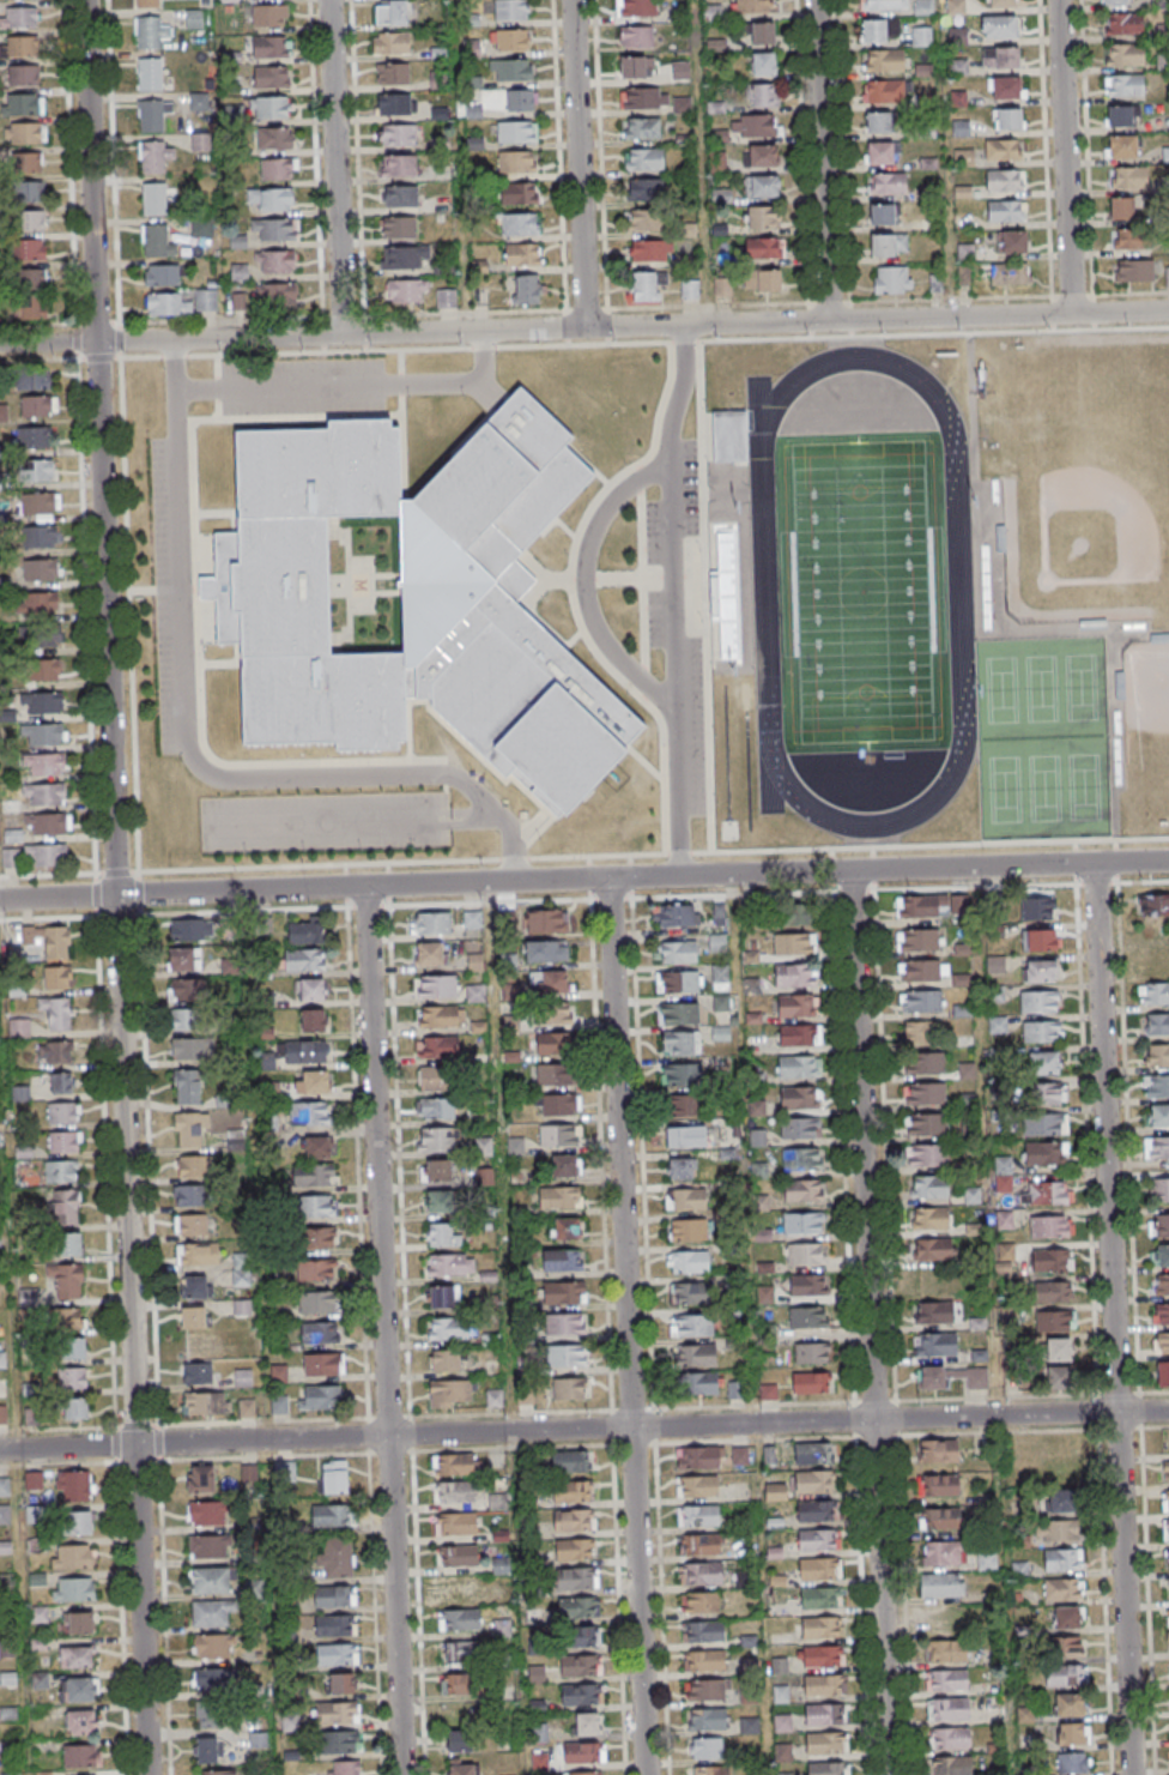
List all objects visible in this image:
building: (1116, 1)
building: (146, 4)
building: (882, 4)
building: (1001, 4)
building: (755, 6)
building: (636, 7)
building: (922, 7)
building: (955, 7)
building: (510, 10)
building: (392, 12)
building: (268, 17)
building: (22, 18)
building: (1123, 24)
building: (998, 28)
building: (878, 29)
building: (152, 31)
building: (762, 32)
building: (959, 32)
building: (636, 36)
building: (921, 36)
building: (513, 40)
building: (390, 43)
building: (22, 47)
building: (271, 47)
building: (1123, 54)
building: (1000, 58)
building: (883, 60)
building: (763, 64)
building: (635, 66)
building: (509, 70)
building: (150, 74)
building: (393, 74)
building: (24, 76)
building: (271, 77)
building: (437, 80)
building: (1123, 85)
building: (1006, 87)
building: (888, 91)
building: (763, 95)
building: (644, 97)
building: (958, 98)
building: (520, 99)
building: (199, 102)
building: (24, 103)
building: (394, 105)
building: (269, 107)
building: (441, 114)
building: (152, 115)
building: (1119, 115)
building: (1007, 117)
building: (878, 121)
building: (753, 126)
building: (641, 128)
building: (515, 132)
building: (25, 133)
building: (399, 135)
building: (275, 138)
building: (200, 143)
building: (1122, 146)
building: (1003, 149)
building: (879, 152)
building: (759, 155)
building: (1165, 155)
building: (155, 156)
road: (1064, 157)
building: (643, 158)
building: (516, 161)
road: (820, 161)
road: (701, 162)
building: (26, 163)
road: (577, 164)
road: (456, 165)
building: (396, 167)
road: (334, 168)
building: (278, 170)
building: (1128, 176)
building: (1004, 180)
building: (886, 183)
building: (761, 186)
building: (646, 188)
building: (28, 192)
building: (517, 193)
building: (721, 195)
building: (400, 197)
building: (153, 198)
building: (272, 199)
building: (1121, 207)
building: (1006, 210)
building: (884, 213)
building: (759, 217)
building: (32, 219)
building: (644, 219)
building: (519, 223)
building: (202, 228)
building: (398, 228)
building: (275, 230)
building: (1128, 239)
building: (157, 241)
building: (1011, 241)
building: (888, 243)
building: (764, 248)
building: (32, 249)
building: (650, 250)
building: (522, 254)
building: (404, 259)
building: (277, 262)
building: (1133, 270)
building: (1006, 272)
building: (162, 276)
building: (1167, 276)
building: (35, 279)
building: (891, 279)
building: (761, 280)
building: (644, 286)
building: (526, 289)
building: (689, 289)
building: (406, 294)
building: (278, 296)
building: (446, 298)
building: (182, 303)
building: (32, 309)
road: (584, 327)
building: (35, 379)
road: (351, 386)
building: (38, 405)
building: (4, 412)
building: (34, 436)
building: (726, 436)
building: (37, 470)
building: (42, 503)
road: (673, 513)
park: (1084, 518)
building: (40, 537)
building: (41, 570)
road: (583, 585)
park: (860, 592)
park: (860, 592)
track: (957, 592)
building: (414, 600)
building: (37, 604)
building: (41, 635)
building: (43, 670)
park: (1078, 688)
park: (1038, 689)
park: (999, 690)
building: (44, 702)
park: (1146, 731)
building: (43, 735)
road: (189, 749)
building: (44, 763)
park: (1082, 787)
road: (678, 789)
park: (1042, 789)
park: (1003, 790)
building: (47, 796)
road: (358, 822)
building: (49, 825)
road: (464, 825)
building: (46, 856)
building: (10, 858)
road: (641, 877)
road: (114, 887)
road: (57, 896)
building: (932, 905)
building: (1152, 905)
building: (1038, 907)
building: (797, 913)
building: (676, 914)
building: (472, 919)
building: (545, 920)
building: (430, 924)
building: (190, 929)
building: (304, 930)
building: (49, 940)
building: (919, 940)
building: (1038, 940)
building: (716, 942)
building: (794, 943)
building: (963, 949)
building: (544, 950)
building: (677, 950)
building: (429, 954)
building: (184, 958)
building: (304, 959)
building: (474, 962)
building: (1155, 964)
building: (1040, 970)
building: (922, 971)
building: (794, 974)
building: (720, 976)
building: (56, 977)
building: (679, 980)
building: (547, 983)
building: (437, 985)
building: (187, 989)
building: (310, 989)
building: (510, 992)
building: (476, 994)
building: (1153, 994)
building: (1038, 1001)
building: (720, 1002)
building: (921, 1002)
building: (797, 1004)
building: (56, 1012)
building: (678, 1013)
building: (549, 1014)
building: (441, 1015)
building: (188, 1019)
building: (313, 1020)
building: (1156, 1024)
building: (919, 1031)
building: (720, 1032)
building: (1041, 1032)
building: (799, 1034)
building: (680, 1042)
building: (552, 1043)
building: (437, 1046)
building: (193, 1048)
building: (301, 1051)
building: (54, 1052)
building: (1156, 1053)
building: (922, 1063)
building: (1043, 1063)
building: (799, 1065)
building: (555, 1074)
building: (680, 1074)
building: (436, 1077)
building: (313, 1082)
building: (61, 1083)
building: (1156, 1085)
building: (188, 1086)
building: (20, 1093)
building: (925, 1093)
building: (1047, 1093)
building: (799, 1097)
building: (559, 1104)
building: (684, 1105)
building: (435, 1107)
building: (62, 1112)
building: (309, 1112)
building: (1158, 1115)
building: (926, 1124)
building: (1044, 1125)
building: (799, 1128)
building: (187, 1129)
building: (559, 1134)
building: (684, 1136)
building: (437, 1139)
building: (65, 1141)
building: (483, 1146)
building: (317, 1147)
building: (1156, 1147)
building: (1044, 1154)
building: (926, 1155)
building: (801, 1158)
building: (190, 1165)
building: (564, 1165)
building: (679, 1167)
building: (437, 1170)
building: (61, 1171)
building: (313, 1173)
building: (929, 1187)
building: (1159, 1189)
building: (802, 1190)
building: (189, 1194)
building: (1047, 1195)
building: (971, 1196)
building: (559, 1197)
building: (685, 1199)
building: (438, 1201)
building: (315, 1205)
building: (66, 1206)
building: (928, 1218)
building: (801, 1222)
building: (190, 1224)
building: (1161, 1225)
building: (1049, 1226)
building: (564, 1227)
building: (688, 1228)
building: (438, 1233)
building: (319, 1238)
building: (69, 1244)
building: (931, 1249)
building: (198, 1254)
building: (804, 1254)
building: (1161, 1255)
building: (562, 1260)
building: (1052, 1260)
building: (688, 1261)
building: (449, 1264)
building: (241, 1269)
building: (315, 1270)
building: (66, 1279)
building: (931, 1280)
building: (805, 1284)
building: (1161, 1284)
building: (195, 1287)
building: (564, 1291)
building: (1052, 1291)
building: (690, 1292)
building: (443, 1296)
building: (317, 1302)
building: (933, 1311)
building: (1161, 1314)
building: (807, 1316)
building: (67, 1318)
building: (194, 1318)
road: (1114, 1318)
building: (1053, 1320)
road: (868, 1323)
building: (564, 1324)
building: (691, 1324)
road: (625, 1327)
building: (450, 1328)
road: (382, 1330)
building: (319, 1333)
building: (490, 1338)
building: (278, 1344)
building: (935, 1344)
building: (1161, 1344)
building: (202, 1345)
building: (71, 1347)
building: (1059, 1348)
building: (811, 1352)
building: (695, 1354)
building: (567, 1356)
building: (2, 1359)
building: (444, 1362)
building: (322, 1364)
building: (279, 1373)
building: (198, 1375)
building: (1162, 1375)
building: (973, 1376)
building: (73, 1377)
building: (931, 1377)
building: (1059, 1377)
building: (243, 1378)
building: (699, 1382)
building: (811, 1382)
building: (737, 1388)
building: (1, 1389)
building: (568, 1389)
building: (450, 1393)
building: (320, 1397)
building: (493, 1399)
building: (206, 1405)
building: (279, 1405)
building: (75, 1408)
building: (247, 1408)
building: (4, 1414)
building: (31, 1415)
road: (583, 1429)
building: (937, 1449)
building: (810, 1453)
building: (739, 1454)
building: (698, 1456)
building: (570, 1460)
building: (455, 1465)
building: (1164, 1471)
building: (334, 1475)
building: (200, 1480)
building: (34, 1481)
building: (811, 1481)
building: (938, 1485)
building: (4, 1486)
building: (696, 1486)
building: (74, 1487)
building: (571, 1490)
building: (775, 1491)
building: (453, 1492)
building: (1165, 1499)
building: (497, 1501)
building: (1060, 1501)
building: (813, 1511)
building: (5, 1514)
building: (34, 1514)
building: (207, 1514)
building: (332, 1515)
building: (697, 1515)
building: (939, 1517)
building: (574, 1519)
building: (77, 1522)
building: (455, 1525)
building: (1167, 1528)
building: (1059, 1529)
building: (814, 1540)
building: (1023, 1541)
building: (699, 1544)
building: (5, 1547)
building: (208, 1547)
building: (574, 1548)
building: (939, 1552)
building: (72, 1556)
building: (338, 1556)
building: (458, 1556)
building: (1168, 1556)
building: (986, 1559)
building: (1062, 1559)
building: (814, 1569)
building: (1019, 1569)
building: (699, 1572)
building: (575, 1577)
building: (211, 1581)
building: (937, 1584)
building: (73, 1588)
building: (459, 1588)
road: (858, 1588)
building: (1062, 1588)
building: (333, 1595)
building: (502, 1596)
building: (817, 1598)
building: (699, 1602)
building: (577, 1607)
building: (212, 1613)
building: (1168, 1616)
building: (1067, 1617)
building: (459, 1619)
building: (81, 1622)
building: (335, 1625)
building: (817, 1626)
building: (502, 1628)
building: (703, 1631)
building: (575, 1636)
building: (1168, 1642)
building: (213, 1647)
building: (1062, 1647)
building: (459, 1650)
building: (946, 1650)
building: (335, 1654)
building: (77, 1655)
building: (819, 1656)
building: (703, 1661)
building: (580, 1665)
building: (535, 1674)
building: (1061, 1676)
building: (946, 1679)
building: (216, 1680)
building: (340, 1683)
building: (460, 1683)
building: (820, 1685)
building: (80, 1689)
building: (707, 1690)
building: (580, 1694)
building: (1067, 1704)
building: (949, 1708)
building: (337, 1711)
building: (208, 1713)
building: (462, 1715)
building: (822, 1715)
building: (705, 1717)
building: (81, 1721)
building: (587, 1722)
building: (780, 1723)
building: (1067, 1733)
building: (949, 1738)
building: (341, 1740)
building: (459, 1740)
building: (822, 1744)
building: (705, 1747)
building: (206, 1750)
building: (577, 1752)
building: (80, 1755)
building: (539, 1761)
building: (1068, 1763)
building: (951, 1765)
building: (344, 1767)
building: (461, 1768)
building: (824, 1768)
building: (710, 1770)
building: (217, 1773)
building: (584, 1773)

